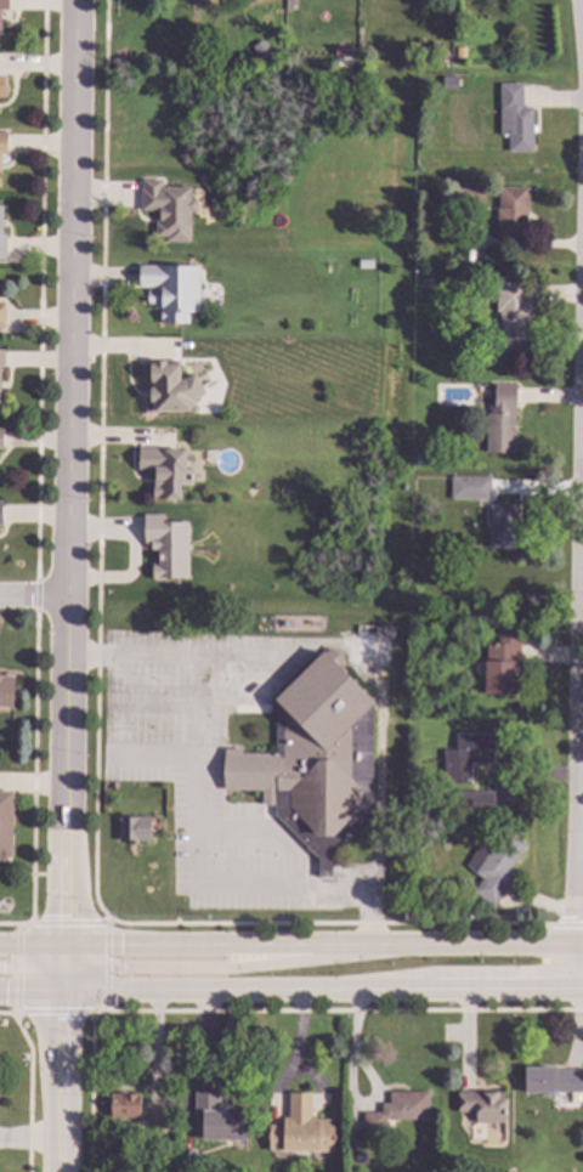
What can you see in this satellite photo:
building: (4, 5)
building: (460, 53)
building: (403, 60)
building: (451, 83)
building: (2, 86)
building: (515, 119)
building: (2, 143)
building: (470, 198)
building: (168, 209)
building: (511, 213)
building: (1, 232)
building: (364, 264)
building: (424, 281)
road: (39, 290)
building: (170, 290)
building: (2, 316)
building: (513, 317)
building: (0, 372)
building: (171, 387)
building: (500, 421)
building: (1, 438)
building: (423, 459)
road: (98, 462)
building: (164, 470)
building: (469, 488)
road: (578, 493)
building: (0, 513)
building: (503, 527)
building: (165, 547)
road: (67, 585)
road: (35, 594)
road: (33, 595)
road: (369, 646)
building: (499, 667)
road: (211, 687)
building: (6, 691)
building: (466, 758)
building: (316, 761)
road: (33, 770)
building: (153, 774)
building: (181, 792)
road: (211, 797)
building: (474, 804)
building: (6, 825)
building: (132, 831)
building: (414, 843)
building: (494, 867)
road: (67, 921)
road: (9, 923)
traffic signals: (62, 945)
road: (291, 945)
road: (30, 966)
road: (106, 966)
road: (220, 966)
traffic signals: (62, 986)
road: (291, 986)
road: (17, 1007)
road: (94, 1013)
building: (551, 1080)
building: (125, 1104)
building: (482, 1104)
building: (397, 1109)
building: (219, 1117)
building: (158, 1121)
building: (301, 1127)
road: (29, 1137)
building: (582, 1156)
building: (185, 1160)

